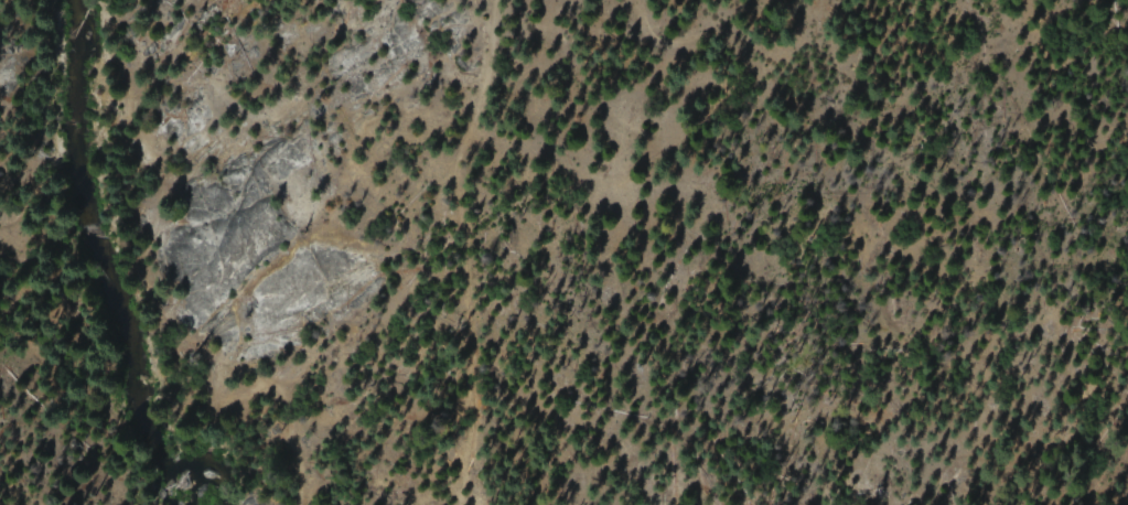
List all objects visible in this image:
road: (534, 258)

